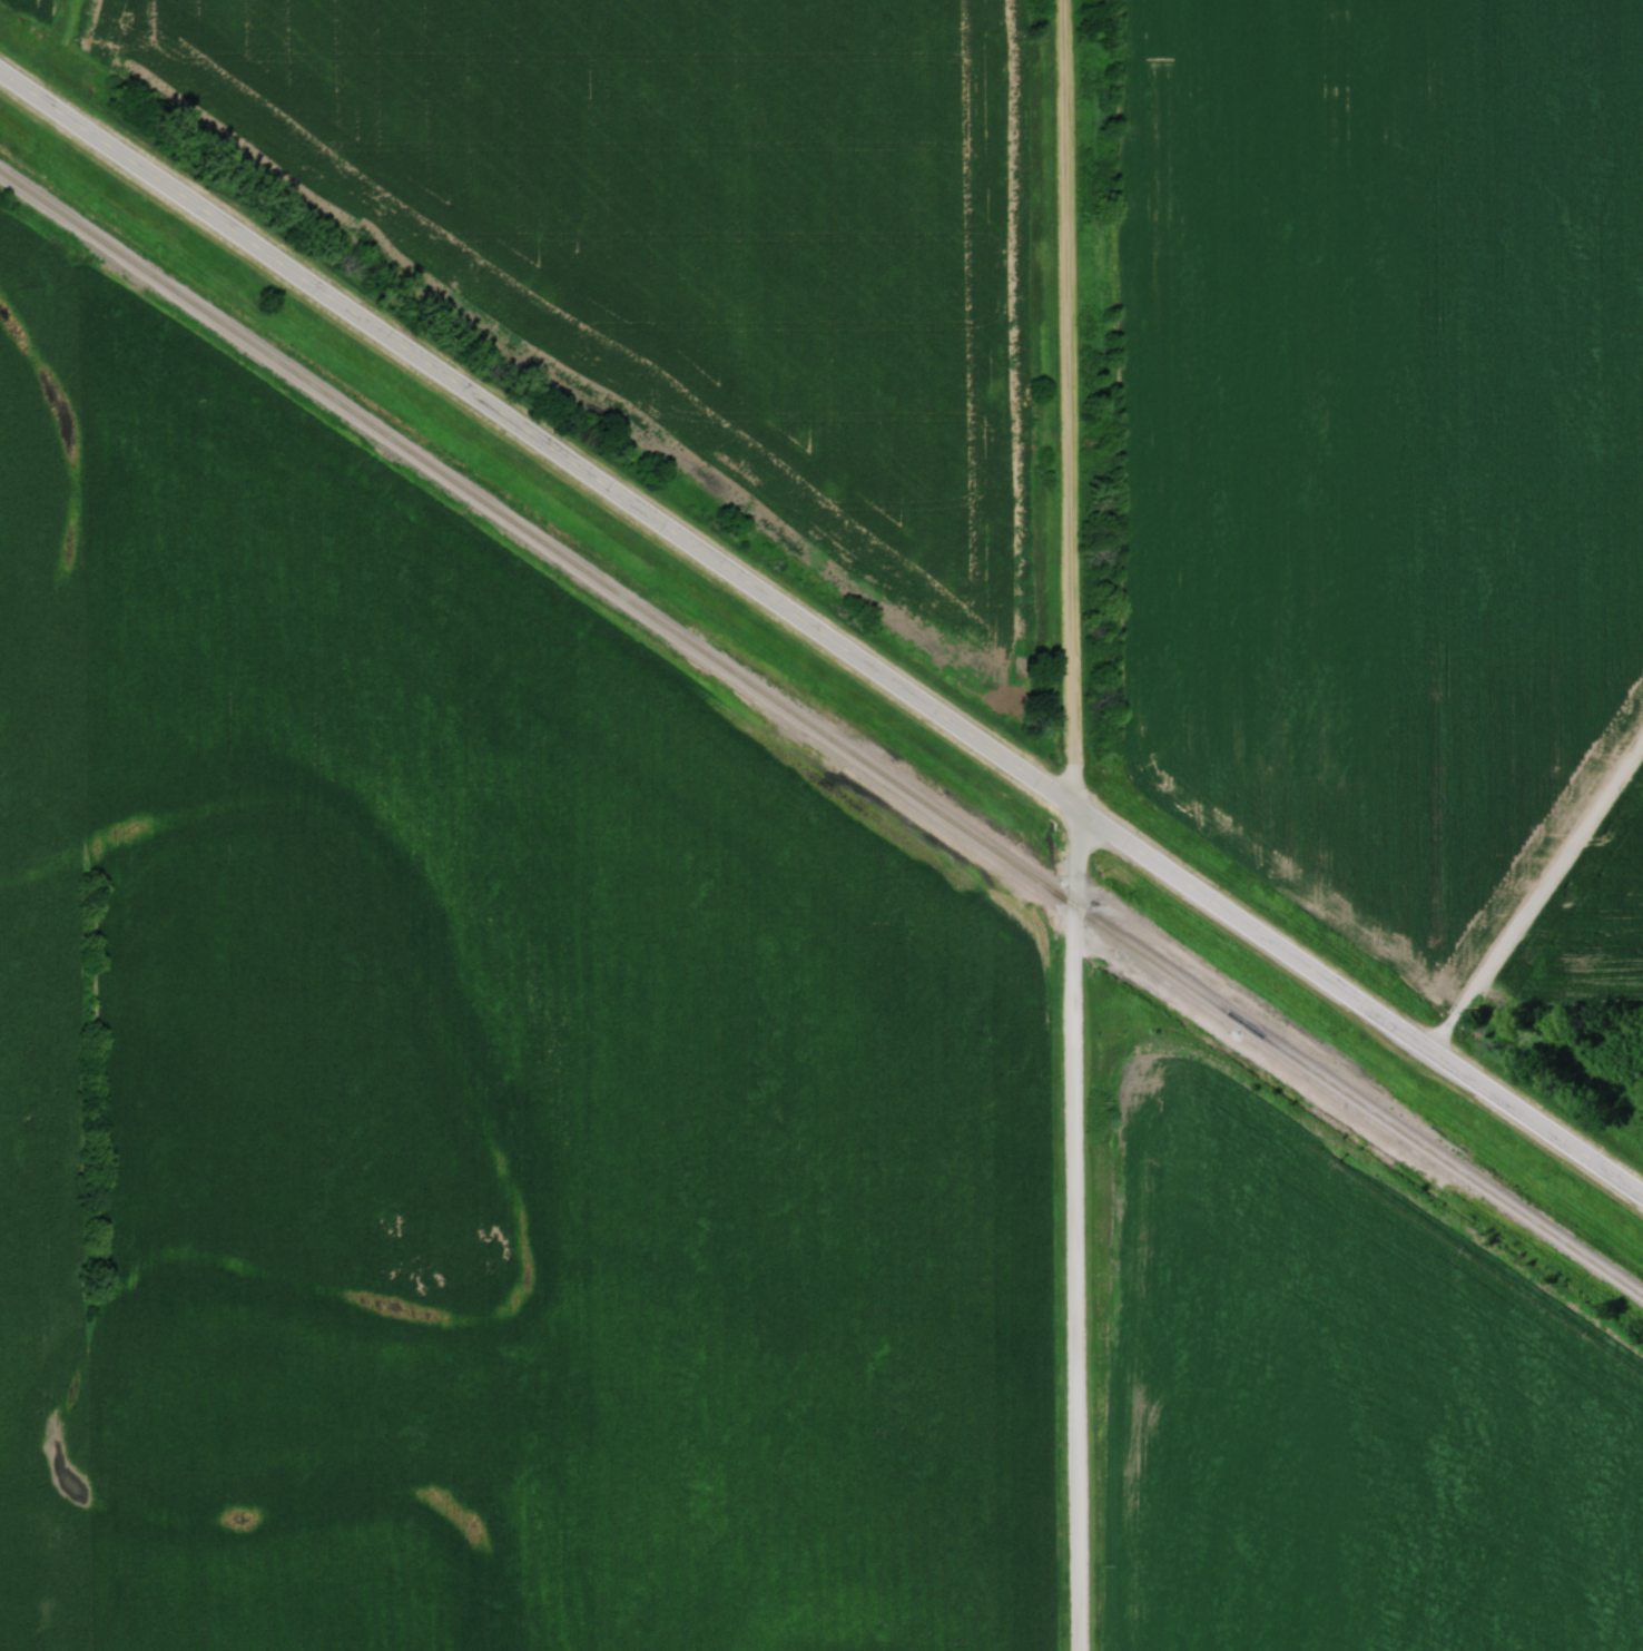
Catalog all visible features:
crop: (702, 232)
crop: (1383, 438)
road: (820, 633)
railway: (821, 731)
road: (1079, 825)
road: (1538, 902)
crop: (1598, 933)
crop: (461, 1093)

